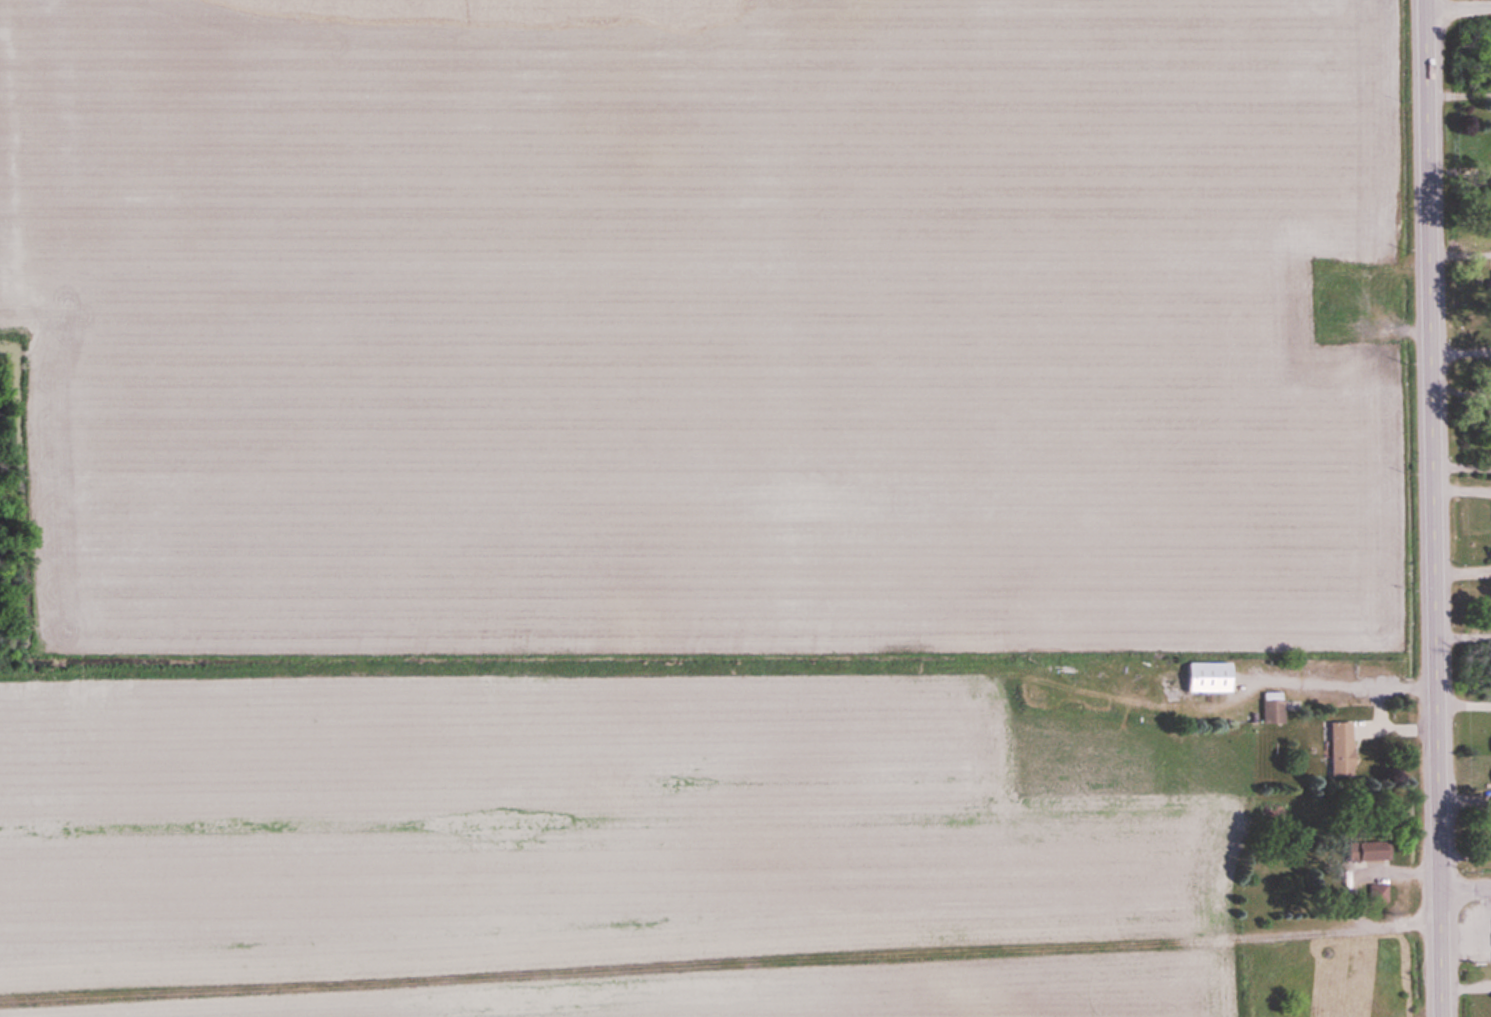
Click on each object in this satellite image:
road: (1458, 7)
road: (1460, 255)
building: (1488, 283)
road: (1461, 352)
road: (1433, 445)
building: (1488, 550)
building: (1200, 678)
building: (1270, 708)
building: (1336, 749)
building: (1362, 852)
road: (1466, 890)
building: (1375, 893)
road: (1442, 954)

